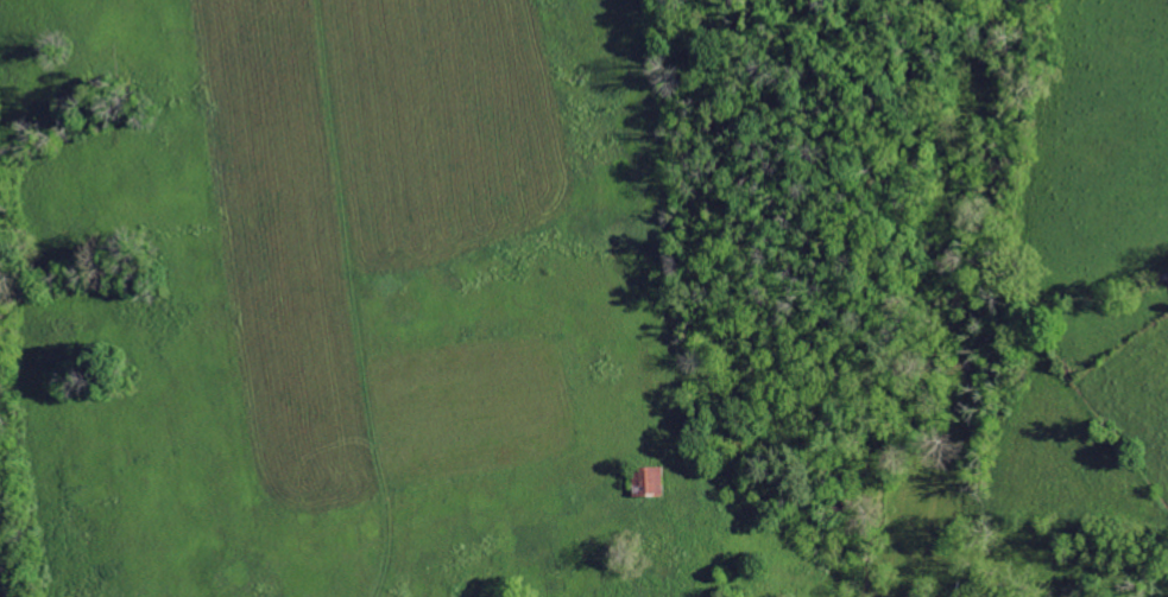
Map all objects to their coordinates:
building: (649, 482)
road: (4, 555)

